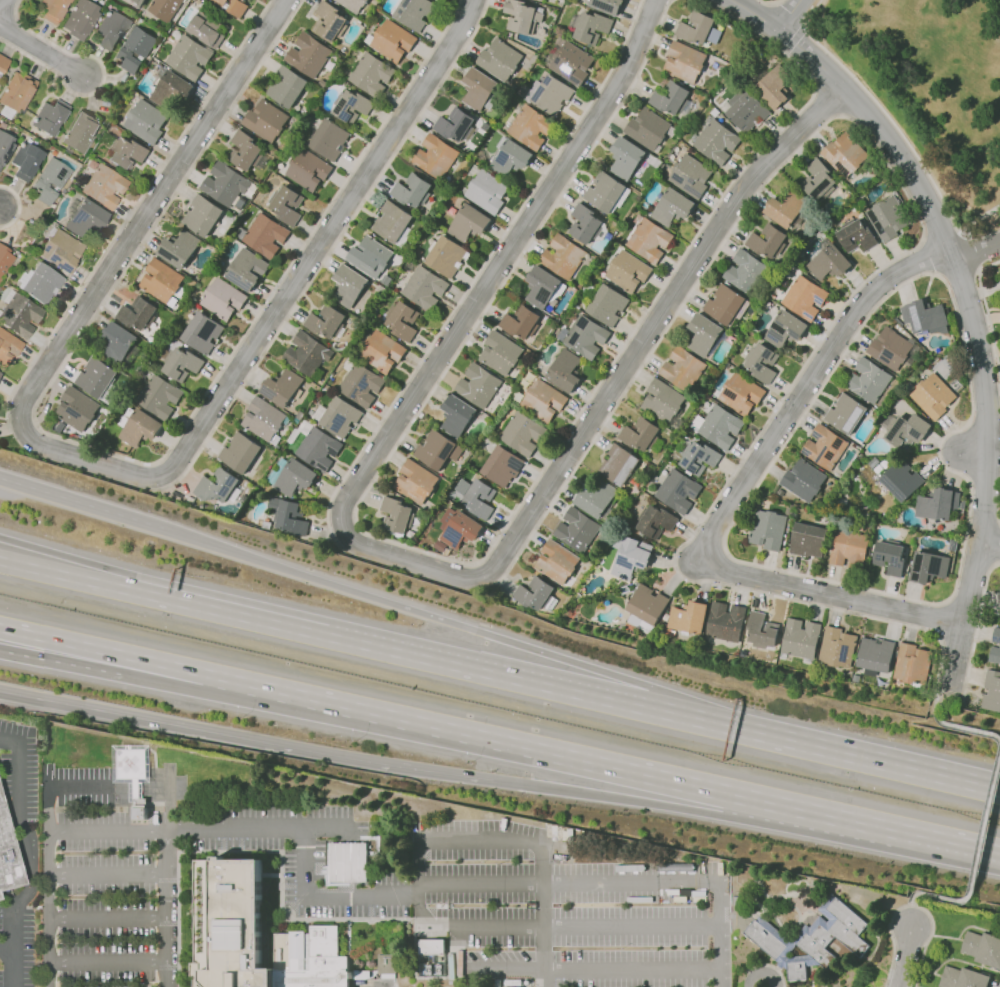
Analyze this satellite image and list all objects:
building: (538, 0)
building: (138, 2)
road: (769, 2)
building: (560, 3)
building: (354, 4)
building: (607, 5)
building: (233, 6)
building: (53, 9)
building: (166, 9)
building: (414, 12)
road: (787, 14)
road: (790, 14)
building: (524, 16)
building: (81, 18)
building: (330, 21)
building: (590, 26)
road: (821, 26)
building: (700, 27)
building: (207, 28)
building: (111, 29)
road: (794, 37)
building: (392, 39)
building: (136, 48)
road: (42, 51)
building: (309, 54)
building: (190, 57)
building: (500, 59)
building: (571, 61)
building: (685, 62)
building: (3, 63)
building: (372, 74)
building: (0, 78)
road: (102, 78)
building: (287, 86)
building: (775, 86)
building: (170, 88)
park: (931, 88)
building: (480, 90)
building: (550, 93)
building: (16, 94)
building: (673, 98)
building: (352, 105)
road: (882, 110)
building: (747, 111)
building: (50, 117)
building: (146, 120)
building: (267, 120)
building: (456, 125)
building: (530, 126)
building: (650, 129)
building: (81, 131)
building: (330, 139)
building: (716, 141)
building: (5, 145)
building: (247, 152)
building: (127, 153)
building: (847, 155)
building: (436, 156)
building: (510, 157)
building: (627, 158)
building: (26, 160)
building: (309, 170)
building: (691, 176)
building: (819, 180)
building: (50, 181)
building: (226, 183)
building: (105, 185)
building: (72, 190)
building: (413, 190)
building: (487, 191)
building: (607, 192)
building: (861, 200)
road: (959, 201)
building: (241, 202)
building: (287, 204)
road: (19, 206)
building: (673, 207)
road: (0, 209)
building: (788, 209)
road: (130, 211)
building: (203, 215)
road: (992, 216)
building: (85, 217)
road: (980, 217)
building: (888, 218)
building: (394, 223)
building: (469, 223)
building: (588, 224)
road: (938, 229)
building: (433, 230)
building: (263, 235)
building: (857, 235)
road: (942, 236)
building: (649, 238)
building: (770, 242)
building: (180, 248)
road: (974, 248)
building: (61, 249)
road: (970, 250)
building: (418, 252)
building: (19, 255)
road: (326, 256)
building: (371, 256)
building: (447, 256)
building: (564, 256)
road: (930, 257)
building: (5, 260)
building: (829, 261)
building: (411, 263)
building: (218, 268)
building: (247, 269)
building: (628, 271)
road: (958, 271)
building: (748, 272)
road: (477, 273)
building: (41, 282)
building: (163, 282)
road: (861, 285)
building: (350, 286)
building: (544, 287)
building: (425, 288)
building: (803, 296)
building: (223, 299)
building: (606, 303)
building: (727, 304)
building: (20, 314)
building: (139, 314)
road: (986, 315)
building: (925, 317)
building: (403, 320)
building: (328, 322)
building: (521, 322)
building: (786, 329)
building: (203, 332)
building: (706, 335)
building: (585, 337)
building: (120, 344)
building: (8, 347)
building: (894, 349)
building: (382, 351)
building: (308, 353)
building: (501, 353)
building: (762, 362)
building: (180, 363)
building: (683, 369)
building: (565, 371)
building: (0, 373)
building: (100, 379)
building: (871, 383)
building: (362, 384)
building: (479, 386)
building: (284, 387)
road: (806, 389)
building: (741, 393)
building: (159, 395)
building: (934, 396)
building: (544, 400)
building: (664, 403)
building: (77, 409)
building: (846, 413)
building: (300, 415)
building: (339, 416)
building: (457, 416)
building: (265, 420)
road: (33, 421)
road: (26, 423)
building: (718, 425)
building: (139, 426)
road: (10, 428)
building: (905, 430)
building: (523, 434)
building: (642, 434)
road: (789, 436)
building: (825, 447)
building: (318, 448)
building: (438, 450)
building: (241, 452)
road: (971, 454)
road: (117, 455)
building: (699, 457)
building: (619, 464)
building: (503, 466)
building: (879, 469)
road: (118, 472)
building: (293, 477)
building: (901, 479)
building: (805, 480)
building: (416, 481)
building: (871, 483)
building: (219, 486)
building: (679, 491)
building: (781, 492)
building: (479, 498)
building: (599, 500)
building: (841, 500)
road: (84, 502)
building: (938, 507)
building: (211, 508)
building: (397, 516)
building: (287, 517)
building: (656, 521)
road: (356, 526)
building: (769, 527)
building: (459, 528)
building: (578, 530)
building: (642, 534)
road: (347, 537)
building: (809, 540)
road: (991, 543)
building: (850, 548)
building: (890, 557)
road: (404, 559)
building: (632, 559)
building: (557, 562)
road: (470, 564)
road: (476, 564)
building: (929, 567)
road: (473, 578)
building: (624, 589)
building: (536, 594)
road: (825, 594)
road: (162, 598)
building: (645, 607)
building: (999, 610)
road: (964, 612)
road: (423, 613)
building: (666, 617)
building: (688, 618)
building: (725, 622)
building: (762, 633)
building: (996, 635)
building: (800, 639)
building: (837, 647)
road: (118, 653)
building: (743, 653)
building: (995, 654)
building: (876, 656)
road: (71, 664)
building: (912, 664)
road: (494, 675)
road: (190, 687)
building: (918, 687)
building: (992, 691)
road: (17, 695)
road: (939, 696)
parking lot: (13, 728)
road: (503, 739)
road: (262, 743)
road: (832, 753)
helipad: (132, 764)
building: (134, 773)
parking lot: (6, 774)
parking lot: (31, 781)
road: (107, 790)
road: (631, 802)
road: (987, 807)
road: (830, 813)
road: (232, 828)
road: (946, 839)
road: (509, 840)
parking lot: (292, 846)
building: (8, 854)
road: (24, 858)
building: (347, 862)
road: (107, 876)
parking lot: (106, 880)
road: (620, 883)
building: (815, 883)
building: (0, 897)
road: (327, 897)
building: (736, 899)
road: (911, 905)
road: (166, 908)
road: (911, 908)
road: (49, 909)
parking lot: (567, 909)
parking lot: (1, 917)
road: (107, 919)
road: (567, 926)
building: (256, 936)
building: (811, 938)
parking lot: (30, 947)
building: (431, 948)
building: (983, 948)
road: (7, 949)
road: (903, 957)
road: (107, 964)
building: (386, 966)
building: (429, 970)
building: (439, 970)
road: (562, 970)
road: (759, 975)
parking lot: (1, 978)
building: (963, 978)
building: (527, 982)
building: (497, 983)

